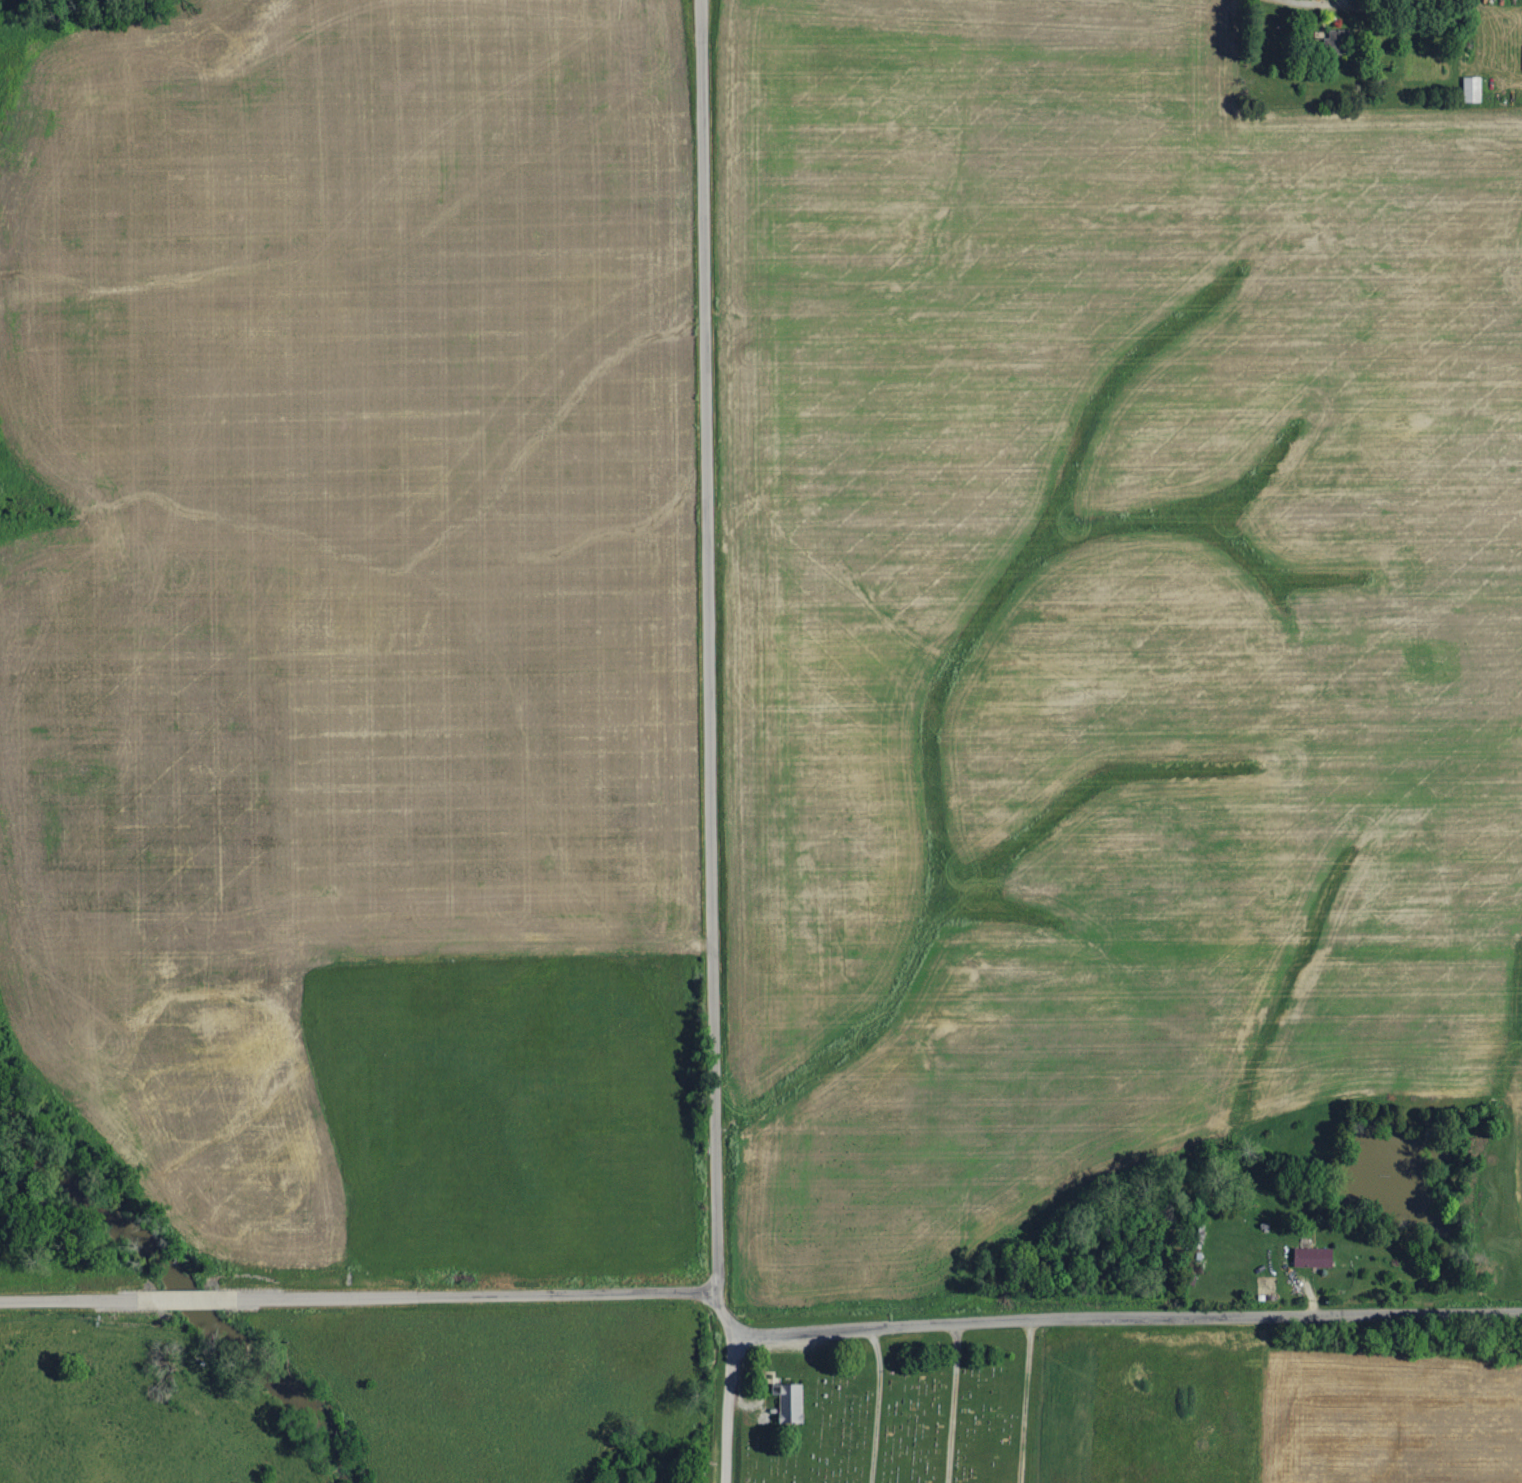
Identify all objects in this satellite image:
road: (1316, 4)
building: (1339, 43)
building: (1473, 90)
road: (710, 667)
building: (1314, 1258)
road: (480, 1292)
road: (186, 1298)
road: (66, 1299)
road: (1123, 1324)
building: (791, 1404)
road: (723, 1408)

